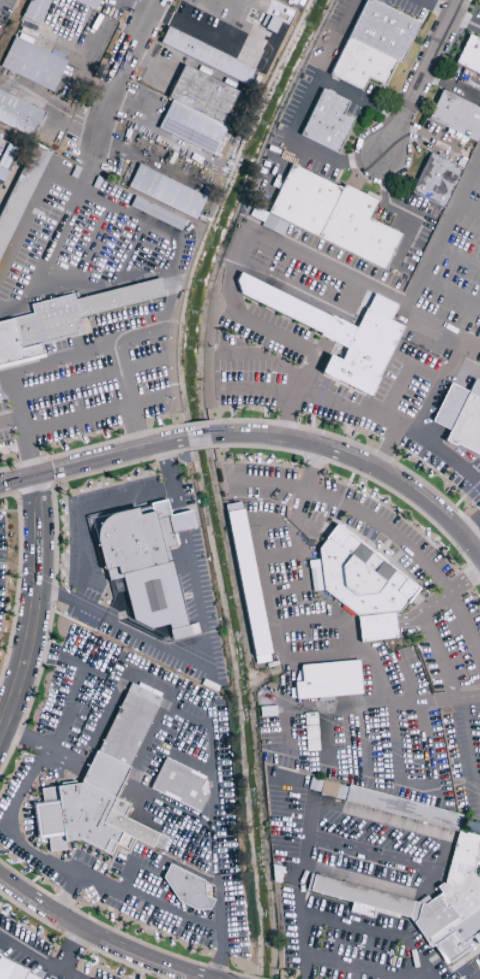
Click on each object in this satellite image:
building: (87, 3)
road: (136, 7)
road: (436, 8)
building: (35, 10)
road: (223, 45)
building: (372, 45)
building: (206, 56)
building: (469, 56)
building: (32, 64)
road: (121, 75)
road: (420, 77)
road: (358, 101)
building: (196, 110)
road: (303, 113)
building: (18, 115)
building: (455, 116)
building: (326, 122)
road: (478, 162)
building: (435, 180)
building: (165, 192)
building: (21, 193)
road: (468, 209)
building: (157, 213)
building: (330, 215)
building: (268, 222)
road: (155, 227)
road: (281, 245)
road: (50, 249)
road: (90, 249)
parking lot: (68, 250)
road: (130, 251)
road: (458, 257)
parking lot: (449, 273)
building: (398, 287)
road: (450, 293)
road: (304, 294)
building: (121, 298)
building: (49, 322)
building: (332, 327)
road: (442, 328)
road: (117, 346)
building: (15, 347)
road: (265, 357)
road: (423, 372)
road: (11, 375)
road: (89, 376)
building: (349, 376)
parking lot: (72, 399)
building: (448, 407)
road: (357, 409)
road: (96, 413)
road: (11, 419)
building: (467, 422)
road: (198, 438)
road: (14, 446)
road: (386, 446)
road: (361, 462)
road: (92, 464)
road: (171, 480)
road: (304, 492)
road: (352, 507)
road: (82, 511)
road: (269, 522)
road: (182, 524)
road: (471, 524)
building: (141, 537)
road: (186, 539)
road: (280, 556)
building: (363, 575)
building: (246, 579)
road: (285, 590)
building: (154, 597)
road: (433, 602)
road: (36, 609)
road: (333, 616)
road: (305, 622)
road: (465, 622)
road: (371, 626)
road: (353, 628)
building: (371, 628)
road: (440, 655)
road: (182, 656)
road: (113, 665)
building: (329, 680)
road: (381, 699)
road: (283, 717)
building: (129, 725)
building: (312, 732)
road: (325, 735)
road: (24, 737)
road: (363, 739)
road: (472, 745)
road: (415, 747)
building: (180, 785)
building: (334, 791)
building: (404, 808)
road: (177, 811)
building: (90, 812)
road: (450, 842)
road: (467, 847)
road: (479, 850)
road: (364, 852)
road: (297, 879)
road: (387, 888)
building: (187, 889)
road: (66, 894)
building: (428, 903)
road: (224, 925)
road: (374, 930)
road: (100, 936)
road: (39, 957)
road: (220, 957)
road: (360, 966)
building: (7, 968)
road: (57, 974)
road: (474, 975)

